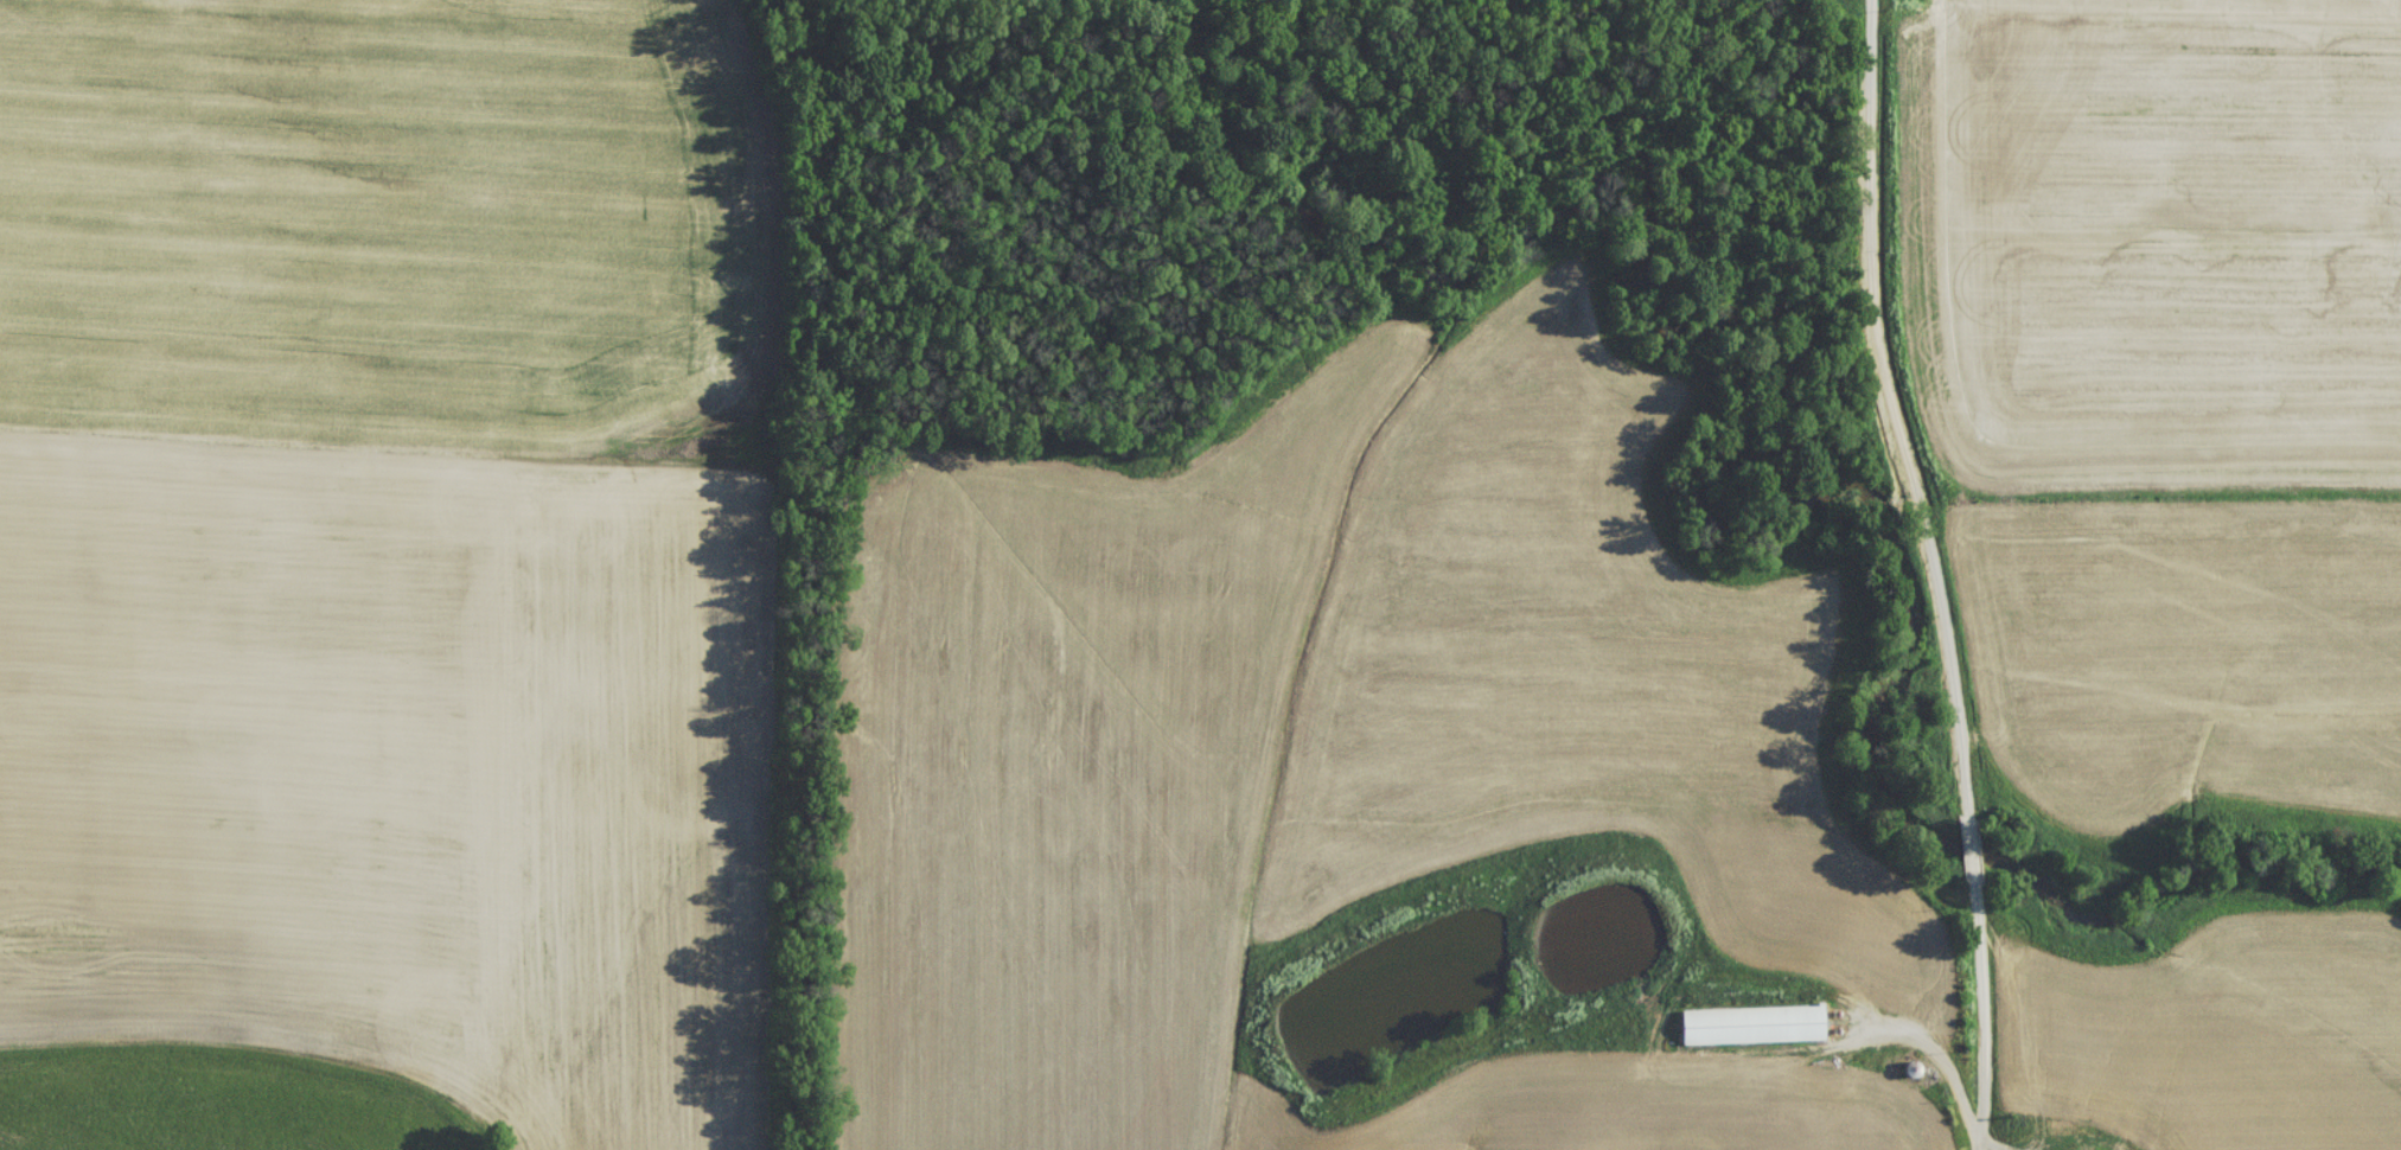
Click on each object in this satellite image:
road: (1939, 571)
building: (1754, 1030)
building: (1913, 1144)

